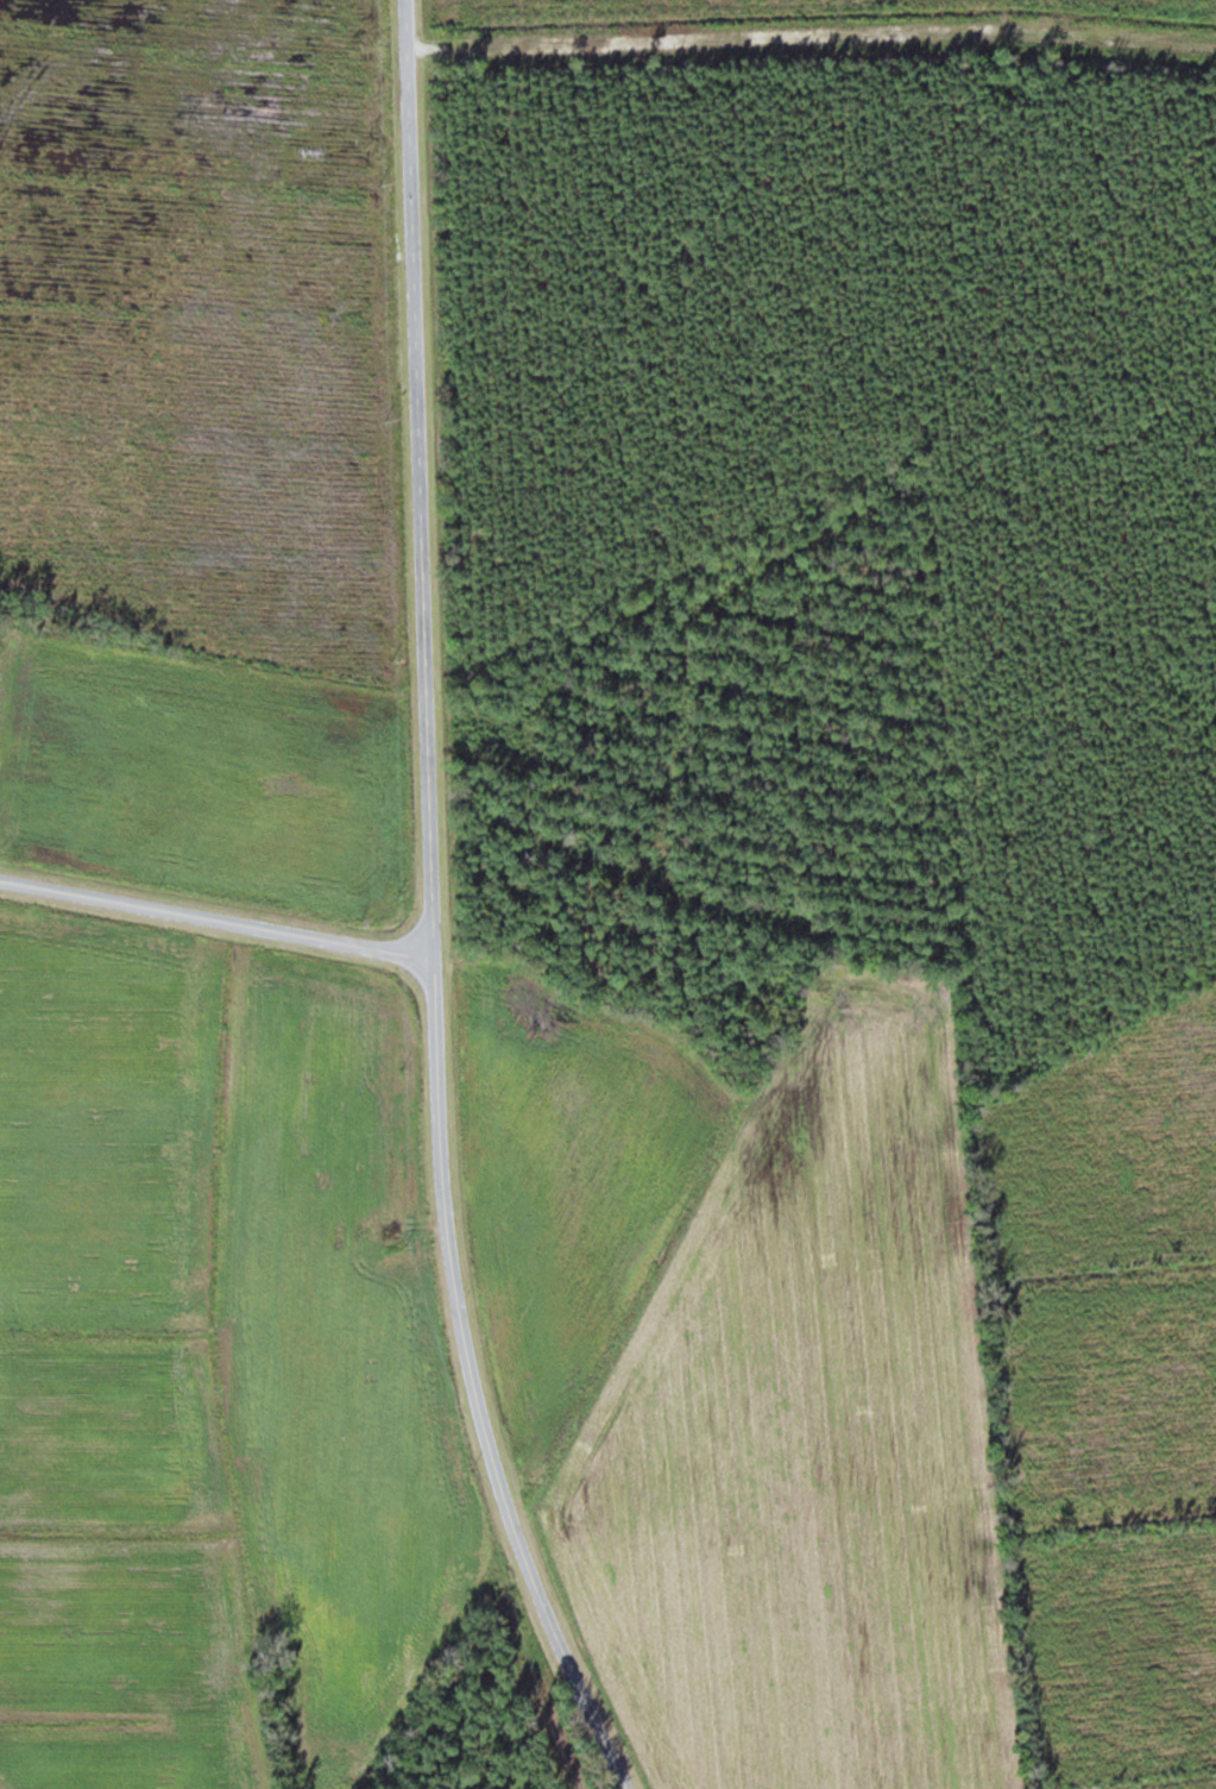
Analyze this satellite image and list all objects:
road: (434, 910)
road: (218, 917)

